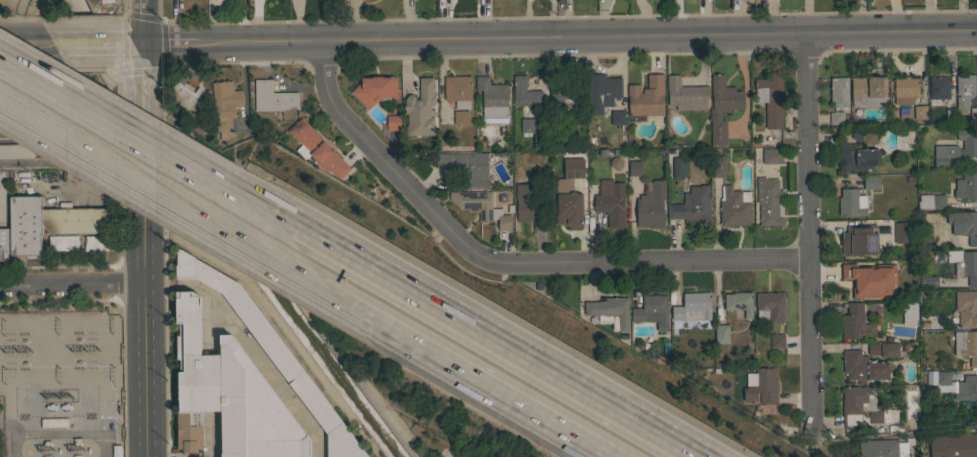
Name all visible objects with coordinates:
road: (62, 4)
park: (43, 7)
road: (10, 10)
road: (28, 12)
road: (62, 16)
road: (125, 19)
road: (592, 36)
road: (174, 40)
road: (87, 42)
road: (131, 42)
road: (27, 43)
road: (120, 71)
road: (103, 85)
building: (939, 88)
building: (374, 90)
building: (458, 90)
building: (868, 90)
building: (905, 90)
building: (964, 90)
building: (839, 91)
building: (602, 92)
building: (525, 93)
building: (565, 93)
building: (686, 95)
building: (189, 96)
building: (271, 97)
building: (646, 97)
building: (976, 98)
building: (492, 100)
building: (770, 100)
building: (224, 106)
building: (722, 107)
building: (420, 109)
road: (117, 110)
building: (920, 113)
building: (901, 114)
building: (460, 117)
building: (617, 118)
building: (836, 118)
road: (113, 120)
building: (393, 122)
building: (527, 126)
building: (864, 137)
building: (541, 141)
building: (956, 148)
building: (317, 149)
building: (16, 150)
building: (772, 156)
building: (857, 158)
road: (71, 162)
building: (467, 166)
building: (718, 166)
building: (678, 167)
building: (635, 168)
building: (871, 182)
road: (163, 184)
building: (966, 184)
road: (144, 188)
building: (569, 195)
building: (769, 201)
building: (931, 201)
building: (851, 202)
building: (611, 204)
building: (651, 205)
building: (692, 205)
building: (734, 206)
building: (481, 207)
building: (529, 210)
building: (520, 214)
building: (74, 220)
building: (964, 225)
building: (25, 227)
road: (143, 228)
building: (901, 232)
road: (807, 235)
building: (859, 240)
building: (62, 242)
building: (99, 242)
building: (4, 244)
road: (204, 255)
building: (954, 256)
road: (502, 266)
building: (967, 267)
building: (928, 281)
road: (71, 282)
building: (858, 282)
building: (739, 302)
building: (693, 307)
building: (770, 307)
building: (966, 308)
building: (610, 309)
building: (652, 311)
building: (909, 313)
road: (463, 321)
building: (856, 322)
building: (721, 334)
building: (777, 341)
building: (966, 345)
building: (889, 349)
building: (274, 353)
road: (301, 354)
road: (450, 363)
building: (863, 367)
power substation: (60, 384)
building: (953, 384)
building: (761, 386)
building: (228, 395)
building: (862, 406)
building: (54, 422)
road: (210, 438)
building: (953, 445)
building: (881, 448)
building: (116, 451)

